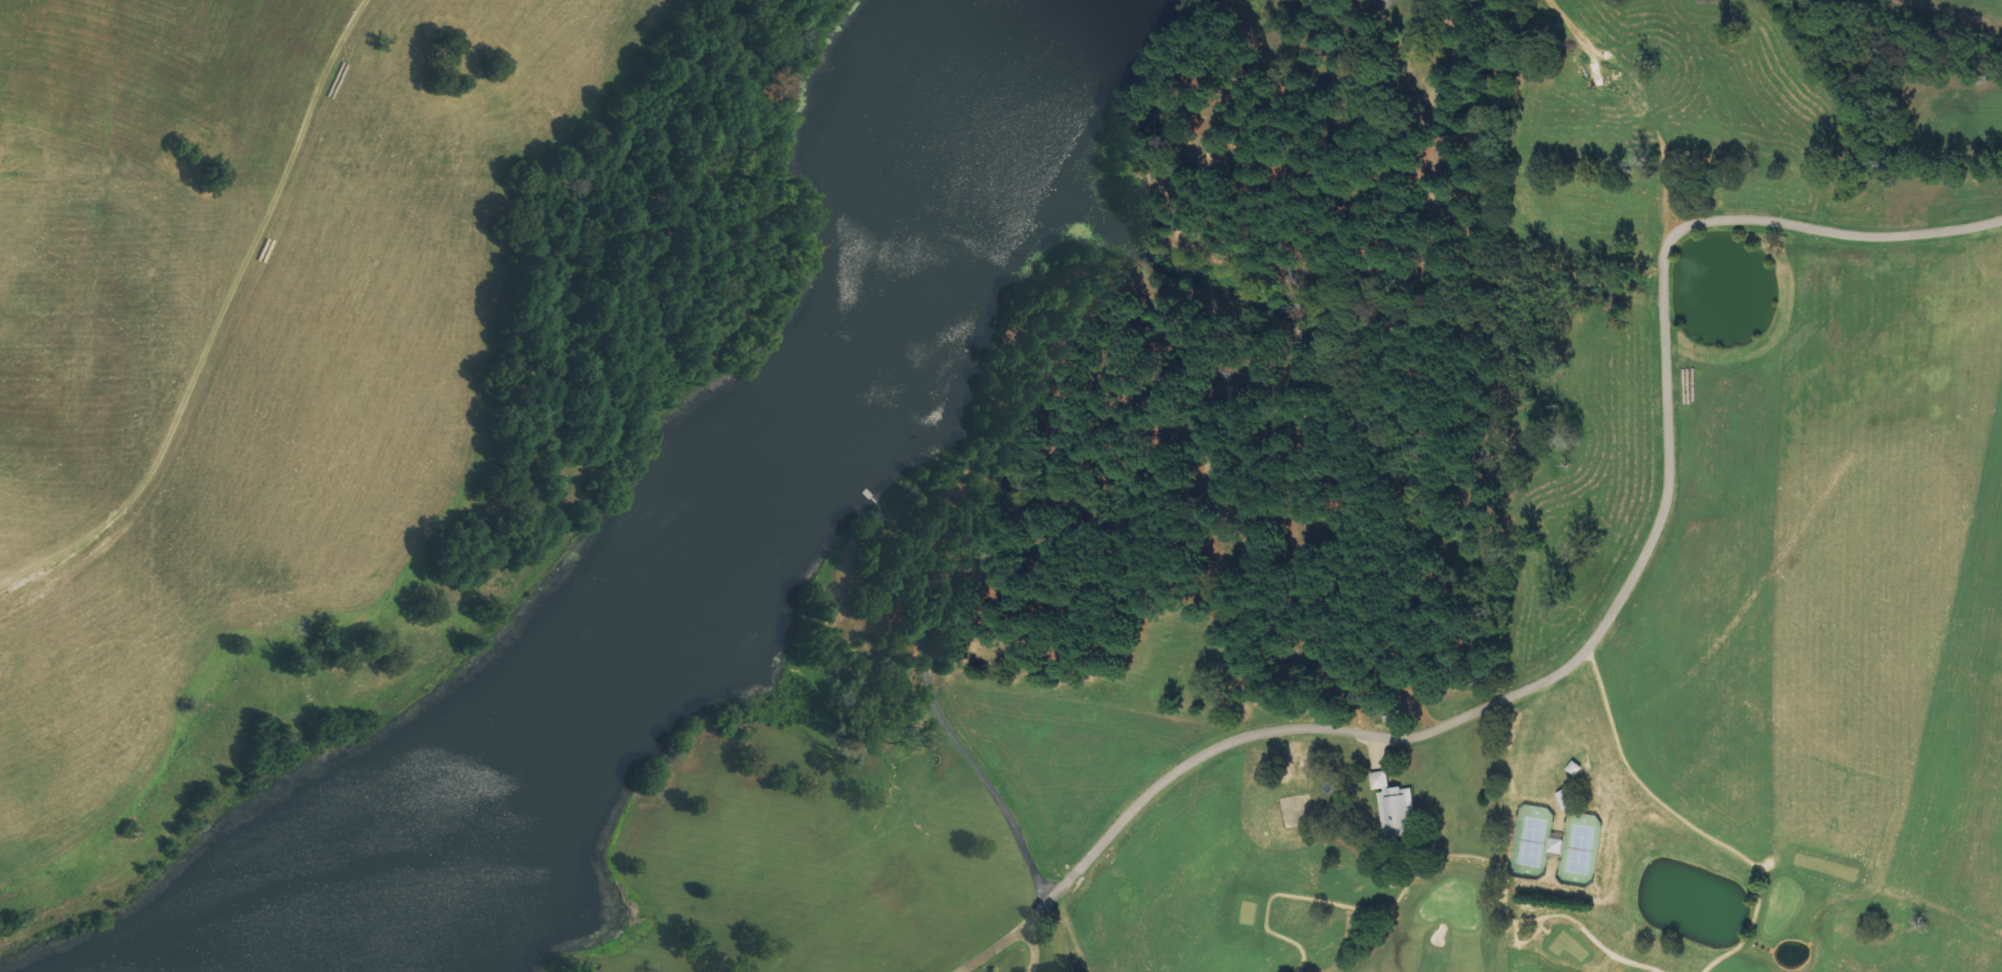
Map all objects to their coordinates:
road: (1147, 442)
road: (1599, 627)
building: (1393, 803)
building: (1555, 845)

